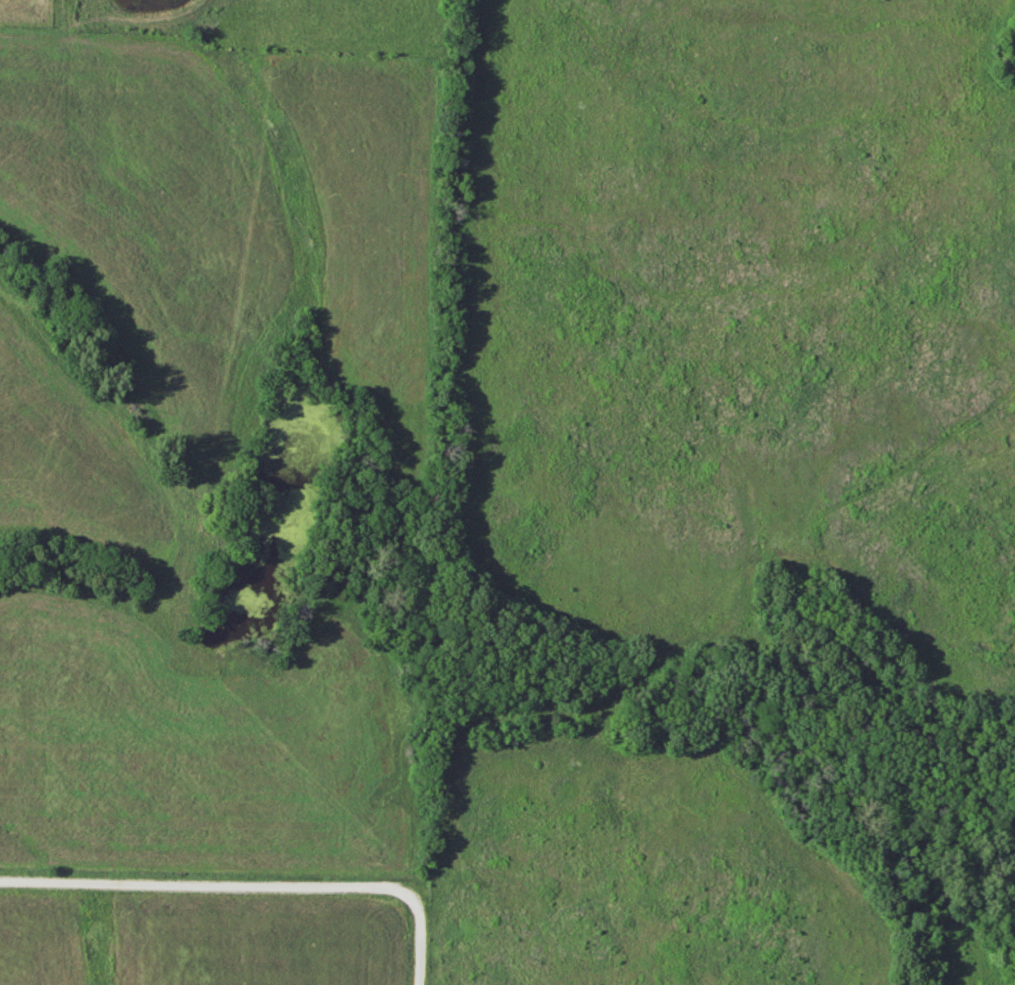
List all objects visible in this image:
road: (251, 886)

